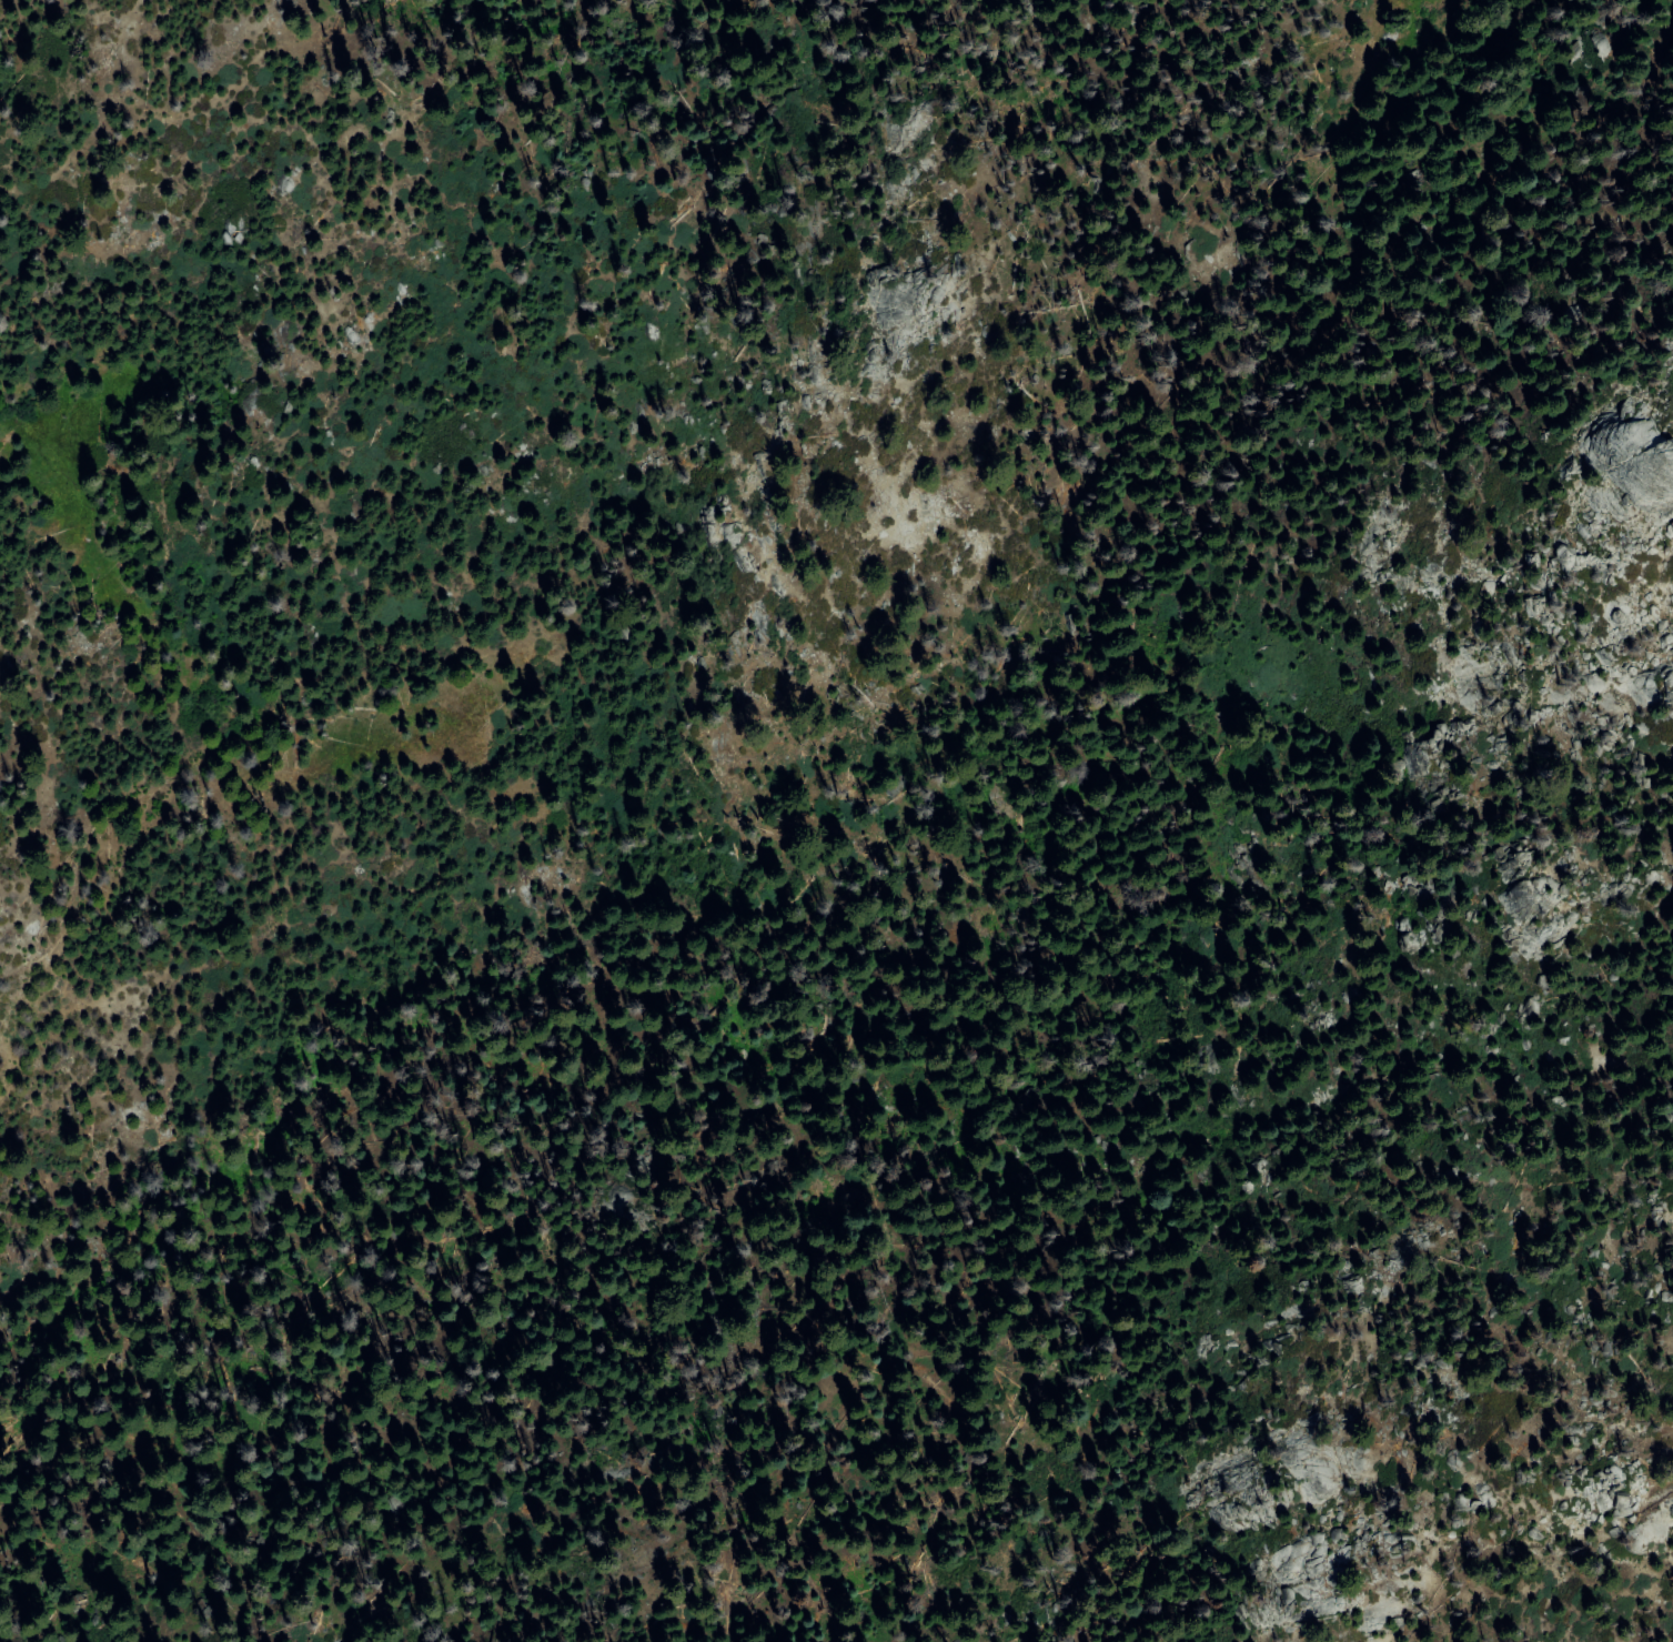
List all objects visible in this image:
building: (1622, 121)

